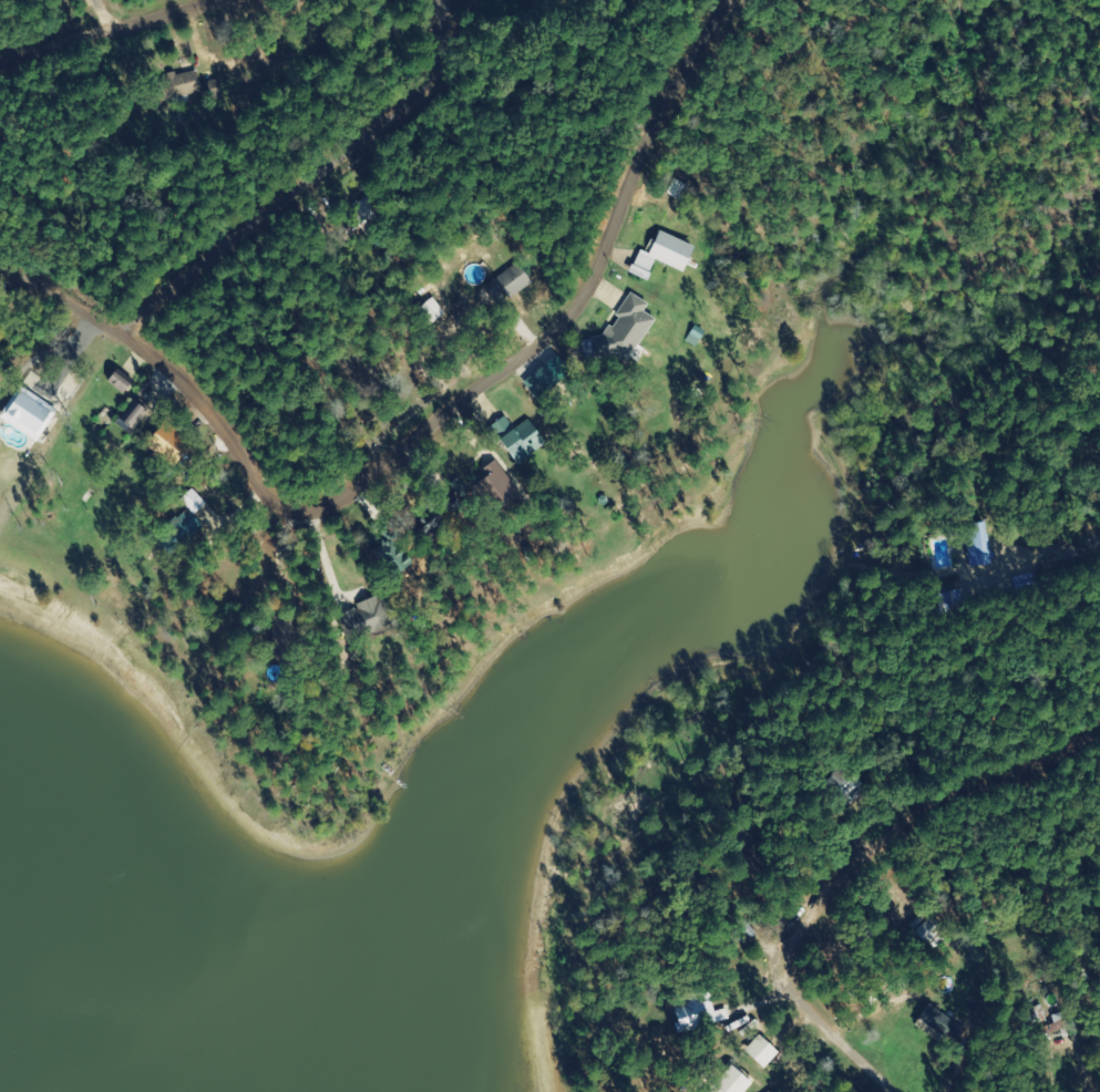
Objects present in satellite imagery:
road: (136, 16)
road: (131, 34)
building: (176, 86)
road: (332, 178)
building: (661, 256)
building: (512, 281)
building: (620, 332)
building: (541, 382)
building: (27, 414)
building: (127, 426)
road: (442, 437)
building: (516, 439)
building: (493, 487)
building: (182, 527)
building: (980, 545)
road: (1082, 589)
building: (366, 619)
building: (843, 790)
road: (913, 914)
building: (696, 1012)
building: (942, 1024)
building: (760, 1053)
building: (731, 1081)

